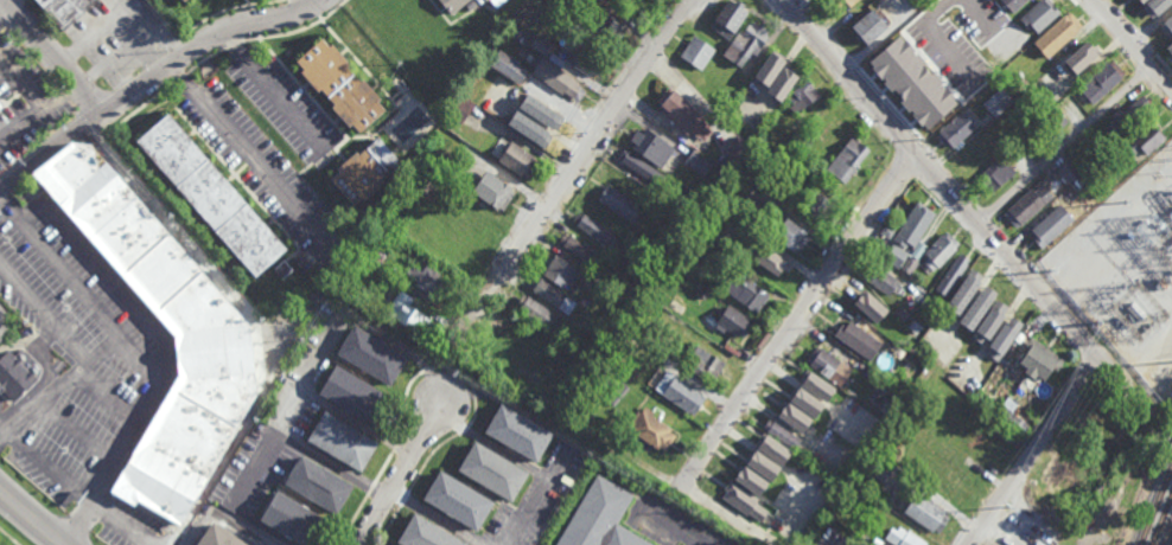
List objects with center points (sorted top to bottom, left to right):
building: (181, 0)
building: (482, 0)
building: (581, 0)
building: (1142, 1)
building: (495, 2)
building: (916, 2)
road: (307, 4)
building: (453, 4)
building: (840, 4)
building: (1013, 4)
building: (1155, 6)
building: (63, 8)
road: (979, 13)
road: (6, 14)
building: (1039, 15)
building: (727, 18)
building: (1167, 26)
building: (870, 27)
building: (604, 31)
road: (94, 32)
building: (1057, 34)
road: (936, 37)
building: (745, 43)
building: (539, 44)
road: (132, 46)
road: (1130, 46)
building: (992, 47)
building: (1168, 49)
building: (695, 52)
road: (55, 56)
building: (896, 56)
building: (1081, 58)
building: (582, 62)
building: (505, 68)
building: (769, 69)
road: (152, 77)
building: (1104, 78)
building: (556, 79)
building: (1002, 79)
building: (782, 83)
building: (339, 86)
building: (1021, 86)
road: (274, 88)
building: (916, 89)
building: (1058, 92)
road: (34, 97)
building: (802, 97)
building: (941, 100)
building: (996, 102)
building: (0, 107)
building: (459, 109)
building: (759, 111)
building: (541, 113)
building: (682, 115)
building: (1126, 116)
building: (1053, 120)
road: (23, 123)
building: (828, 126)
building: (992, 127)
building: (535, 128)
building: (954, 130)
building: (1145, 140)
road: (1063, 146)
building: (650, 148)
building: (1097, 149)
road: (247, 150)
building: (972, 152)
building: (732, 154)
building: (511, 158)
building: (796, 159)
building: (847, 160)
building: (696, 163)
building: (639, 168)
road: (575, 171)
building: (1068, 171)
building: (785, 172)
building: (364, 174)
building: (995, 175)
building: (425, 186)
building: (490, 192)
building: (631, 193)
building: (209, 198)
building: (618, 204)
building: (816, 206)
building: (1026, 206)
road: (963, 210)
building: (912, 226)
building: (1050, 226)
building: (592, 229)
building: (790, 235)
building: (377, 237)
building: (753, 237)
building: (637, 241)
building: (578, 249)
building: (938, 250)
building: (894, 255)
building: (912, 257)
building: (638, 261)
building: (770, 261)
building: (346, 265)
building: (282, 269)
building: (559, 270)
building: (951, 272)
building: (880, 277)
road: (69, 278)
building: (427, 280)
building: (639, 281)
building: (712, 283)
power substation: (1135, 289)
building: (703, 290)
building: (746, 290)
building: (921, 291)
building: (963, 291)
building: (550, 294)
building: (626, 301)
building: (870, 307)
building: (977, 308)
building: (535, 310)
building: (407, 312)
power tower: (1134, 312)
road: (44, 313)
road: (795, 318)
road: (253, 320)
building: (731, 320)
building: (989, 322)
road: (2, 323)
building: (912, 325)
road: (170, 328)
building: (597, 331)
building: (651, 331)
building: (1006, 335)
building: (611, 336)
building: (858, 338)
road: (45, 340)
road: (161, 340)
road: (387, 341)
building: (559, 350)
building: (598, 351)
building: (675, 351)
building: (212, 354)
building: (370, 357)
road: (141, 358)
building: (1038, 359)
building: (505, 361)
building: (705, 363)
building: (832, 364)
building: (905, 364)
building: (15, 371)
road: (310, 373)
road: (44, 374)
building: (488, 374)
road: (70, 377)
building: (694, 381)
building: (820, 384)
building: (619, 389)
building: (675, 390)
building: (352, 392)
road: (110, 396)
building: (612, 398)
building: (655, 399)
building: (804, 400)
building: (548, 402)
road: (292, 412)
building: (1006, 415)
building: (802, 419)
building: (649, 429)
road: (79, 431)
building: (514, 431)
road: (561, 432)
building: (782, 434)
building: (342, 440)
building: (837, 440)
road: (491, 444)
building: (773, 450)
road: (1033, 451)
building: (1107, 455)
building: (763, 456)
road: (37, 459)
road: (397, 469)
building: (489, 470)
building: (879, 470)
building: (750, 481)
building: (317, 482)
building: (743, 493)
building: (457, 499)
road: (236, 500)
railway: (1155, 500)
power tower: (1012, 508)
building: (924, 512)
road: (435, 515)
railway: (1158, 515)
road: (225, 517)
road: (31, 518)
road: (95, 518)
building: (599, 518)
building: (293, 519)
road: (122, 524)
road: (674, 525)
building: (783, 525)
road: (753, 530)
building: (426, 533)
railway: (1167, 533)
road: (9, 536)
building: (218, 536)
building: (904, 538)

